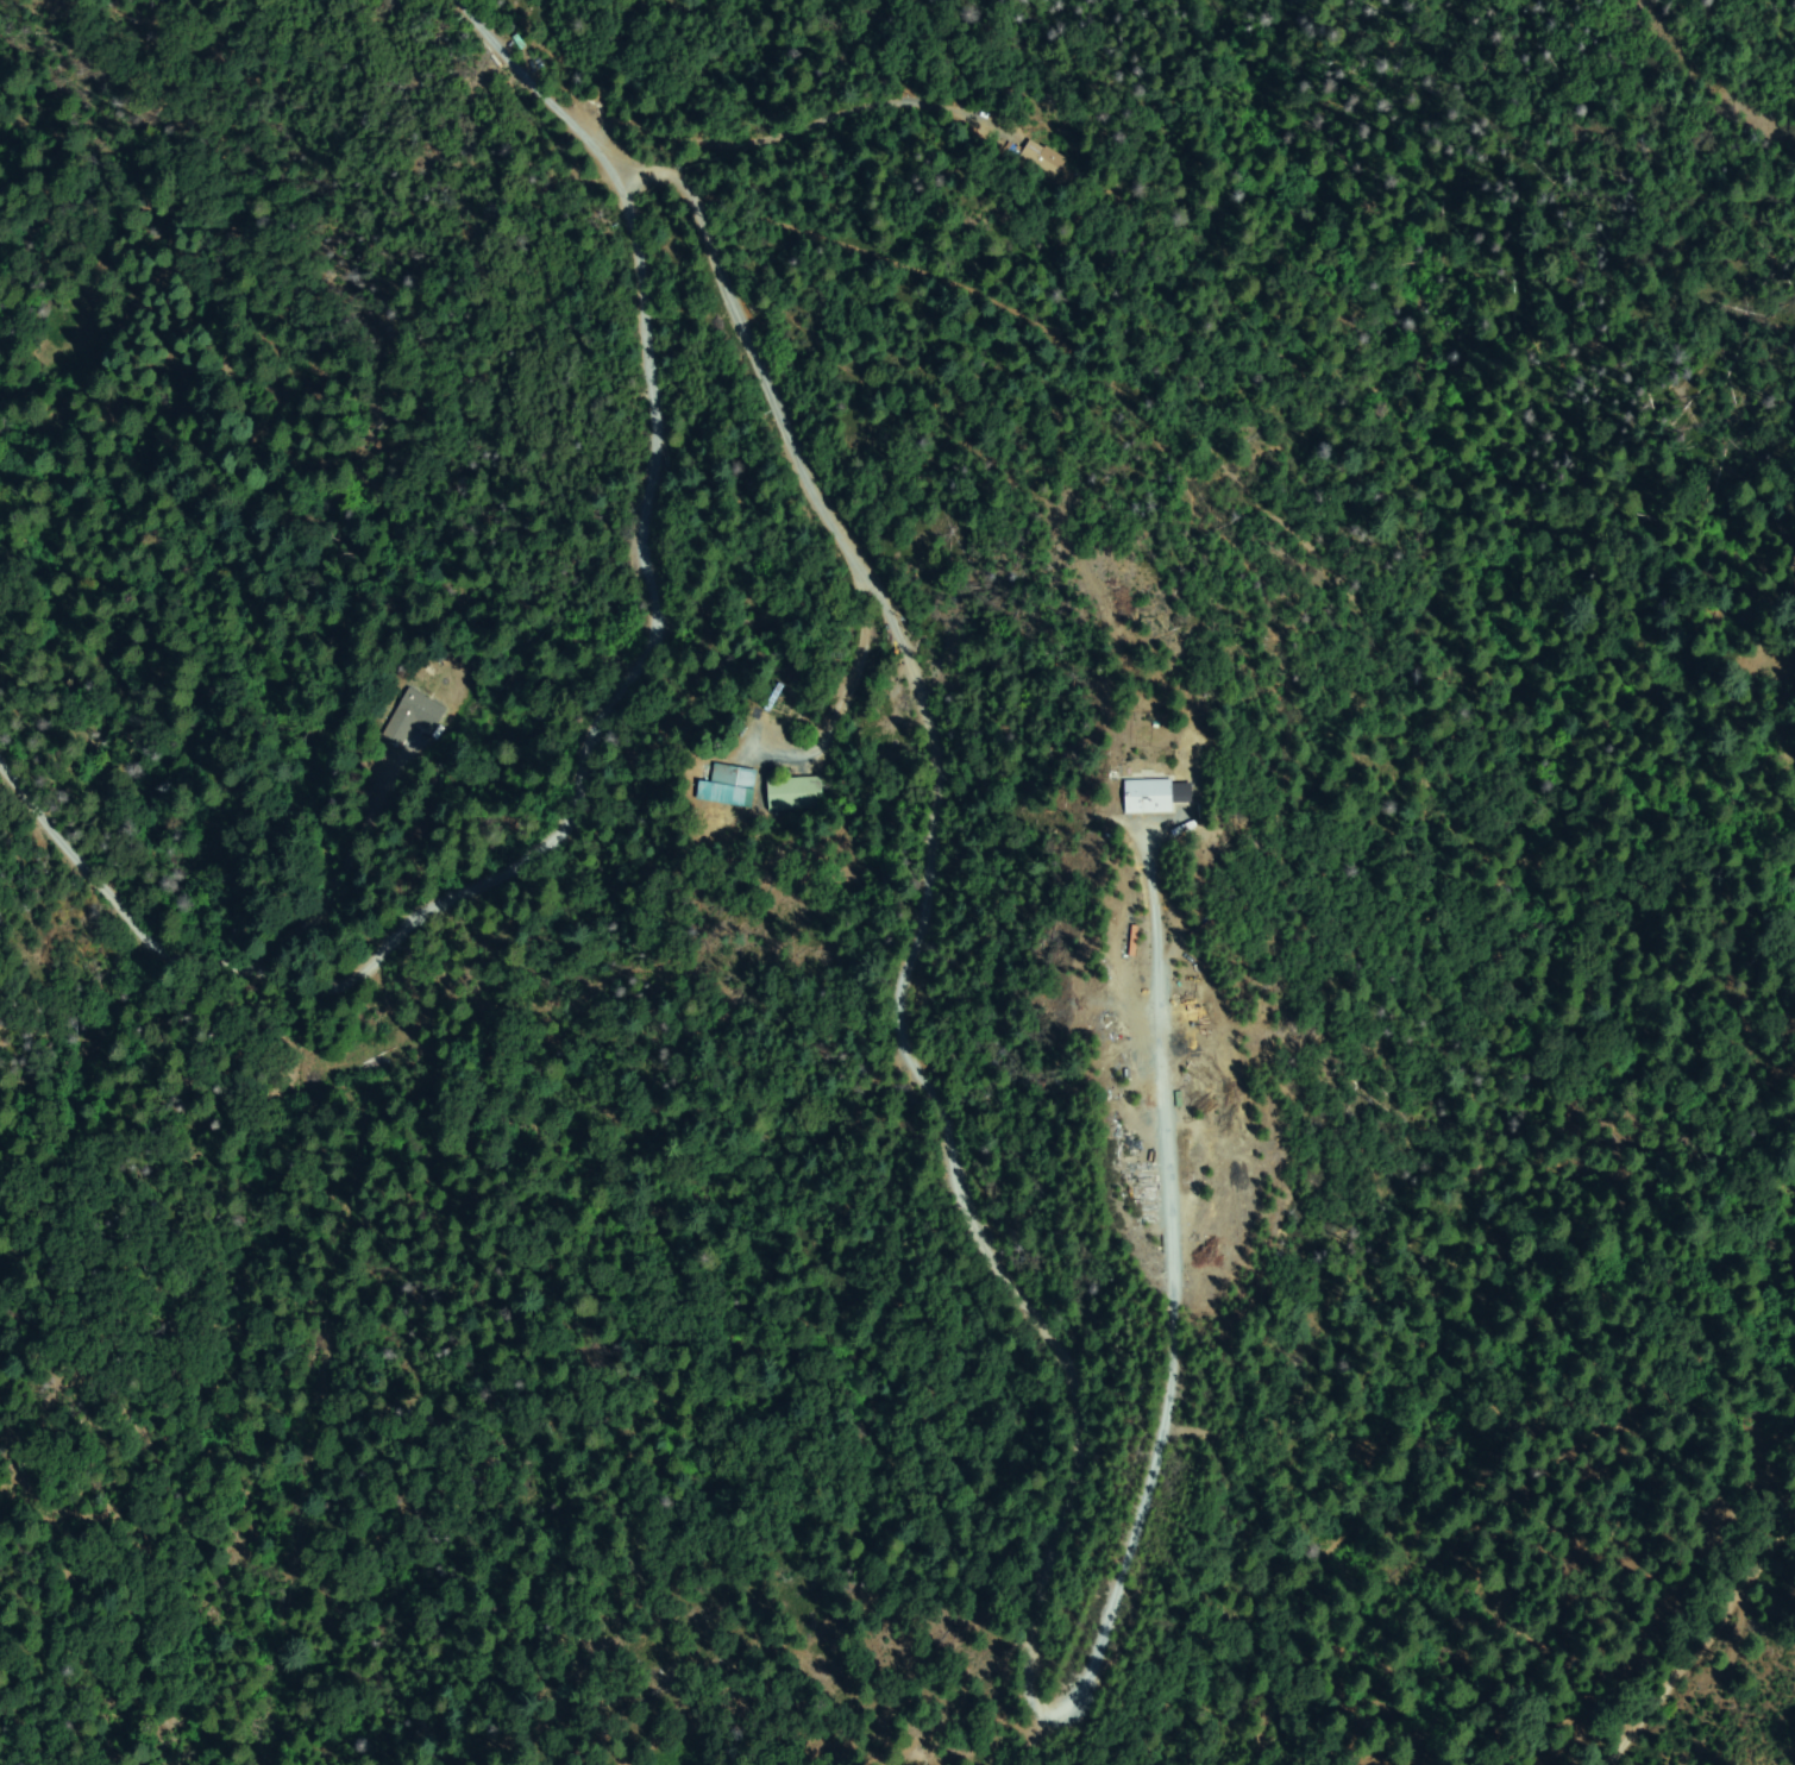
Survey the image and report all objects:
building: (1042, 159)
road: (1025, 325)
building: (413, 717)
road: (603, 717)
building: (728, 787)
building: (796, 793)
building: (1156, 796)
road: (929, 879)

